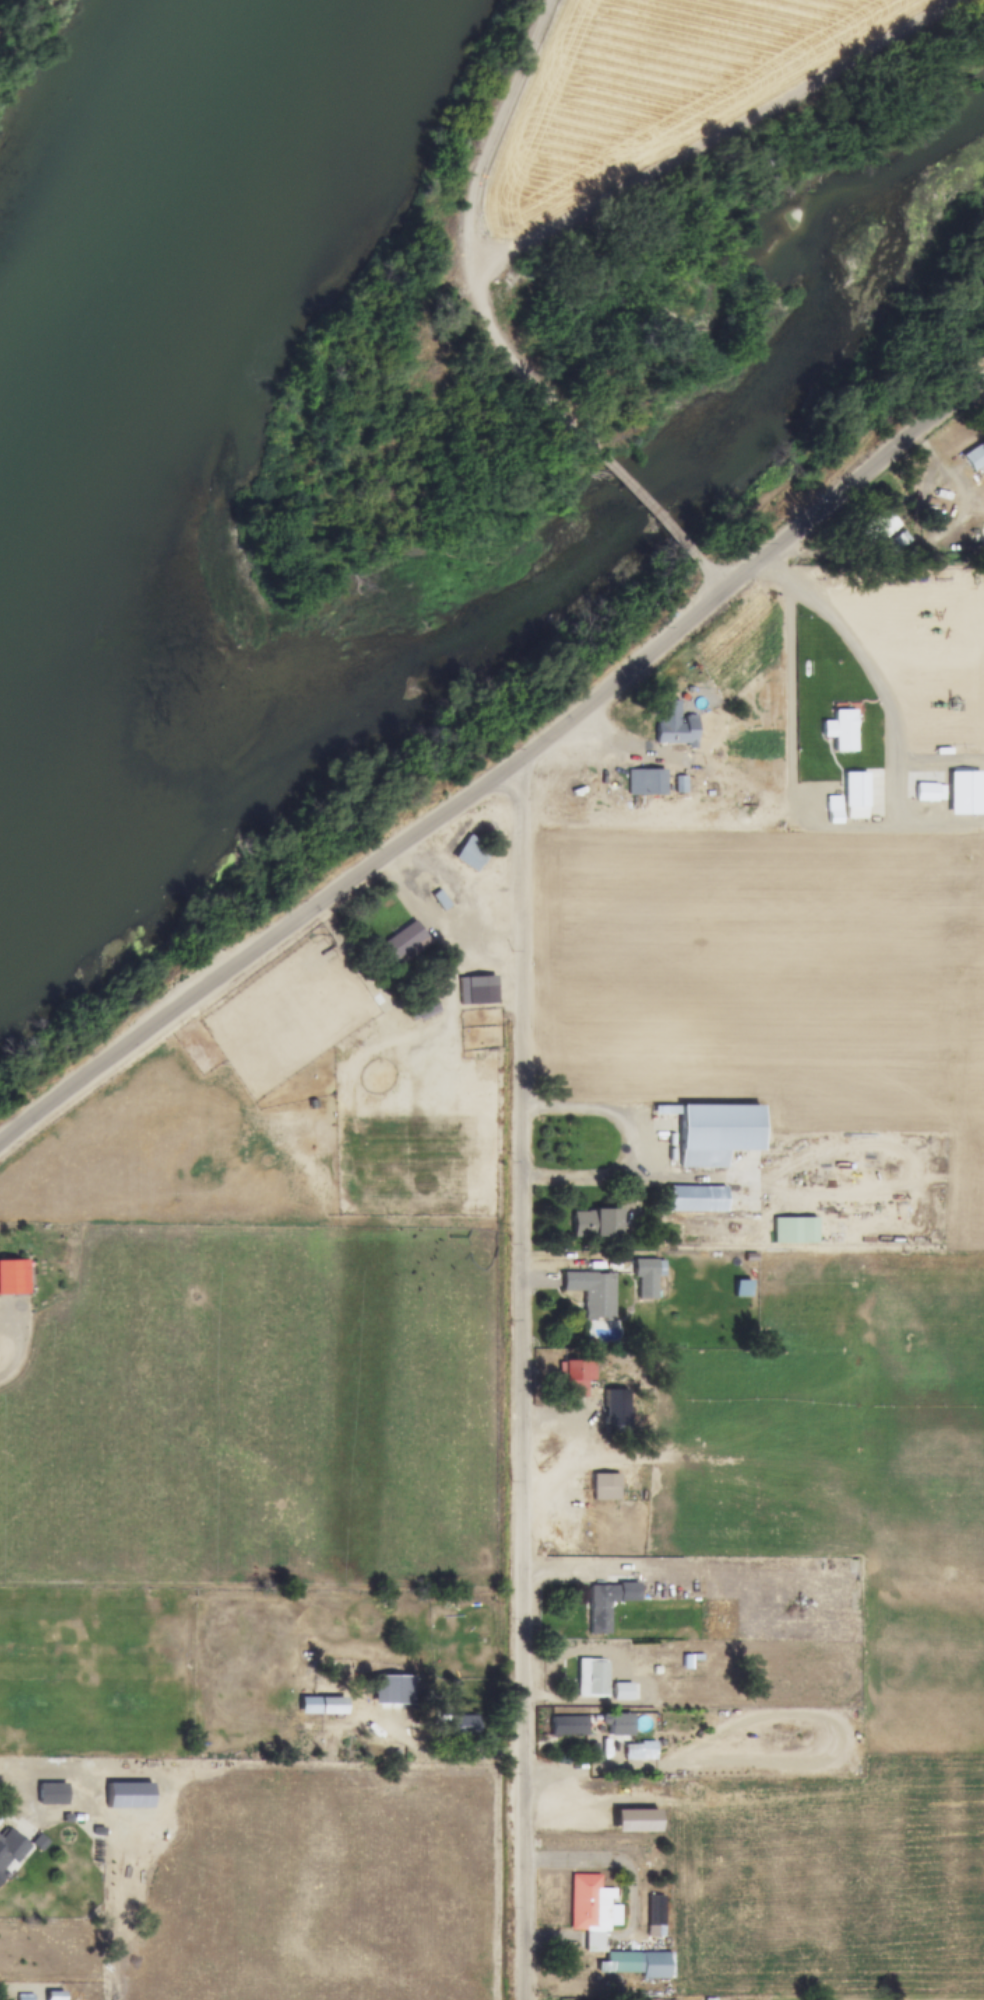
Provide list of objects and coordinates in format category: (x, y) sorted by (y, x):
road: (715, 142)
road: (460, 242)
river: (139, 262)
building: (974, 458)
road: (644, 500)
building: (875, 529)
road: (707, 567)
road: (855, 652)
building: (673, 725)
building: (840, 730)
road: (499, 774)
building: (645, 782)
building: (678, 785)
building: (929, 792)
building: (964, 793)
building: (855, 795)
building: (470, 853)
building: (401, 945)
building: (716, 1134)
road: (623, 1146)
building: (696, 1200)
building: (594, 1223)
building: (793, 1231)
building: (13, 1277)
building: (646, 1277)
building: (592, 1293)
building: (576, 1377)
road: (518, 1379)
building: (551, 1537)
building: (730, 1538)
building: (606, 1603)
building: (649, 1660)
building: (591, 1679)
building: (621, 1692)
building: (321, 1706)
building: (617, 1723)
building: (570, 1725)
building: (457, 1726)
building: (638, 1751)
road: (437, 1753)
building: (51, 1794)
building: (128, 1796)
building: (10, 1849)
building: (1, 1878)
building: (591, 1910)
building: (638, 1964)
building: (24, 1996)
building: (53, 1996)

